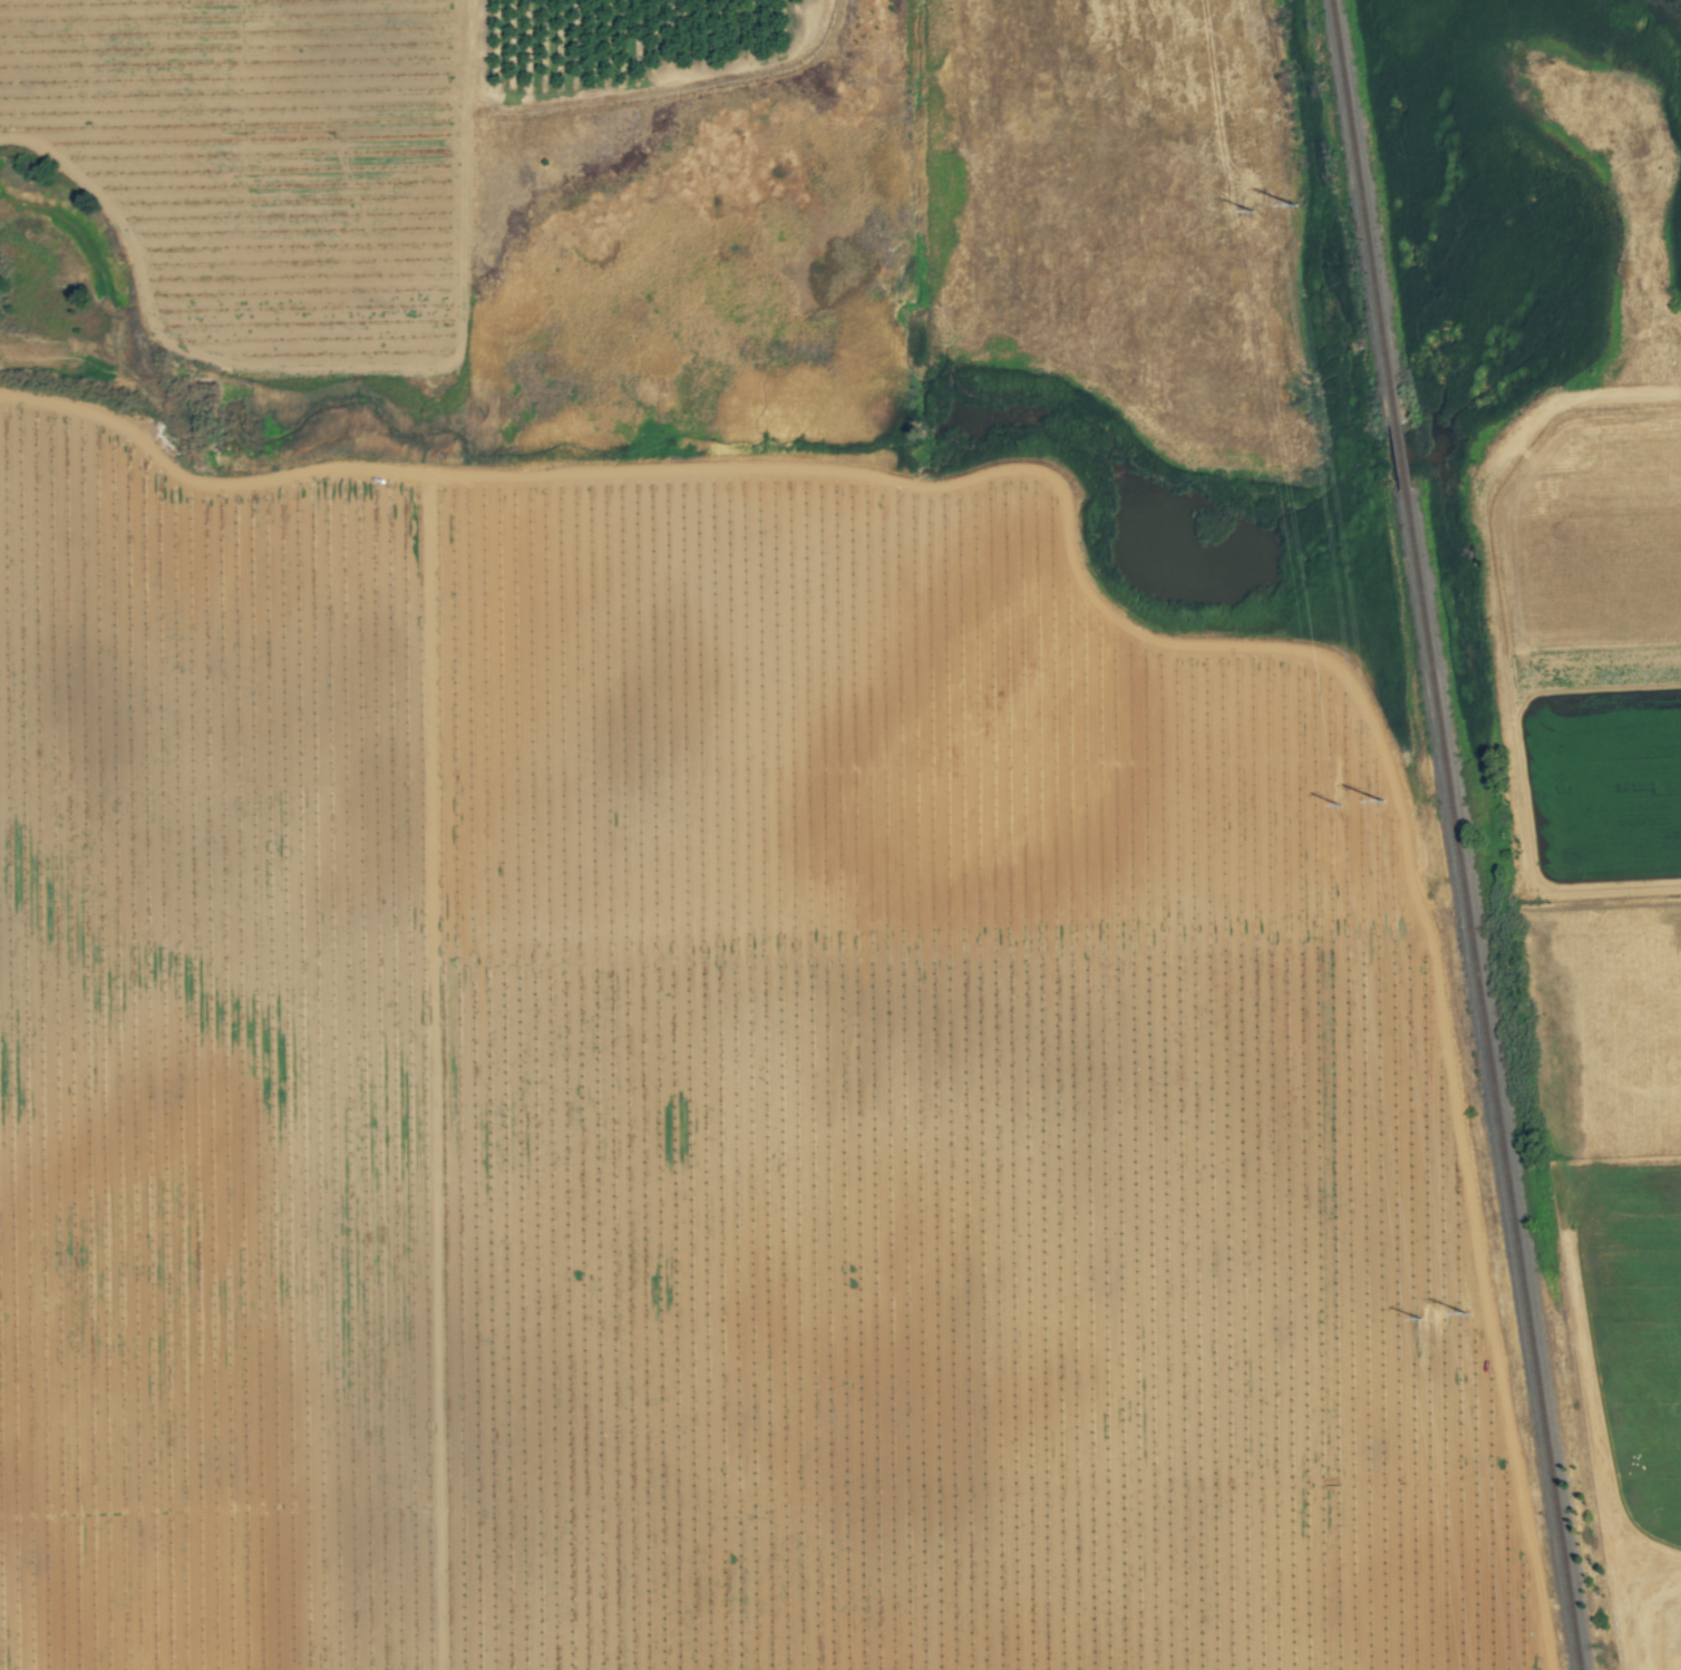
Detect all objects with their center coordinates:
power tower: (1250, 196)
railway: (1371, 212)
railway: (1408, 458)
power tower: (1341, 792)
railway: (1500, 1080)
power tower: (1423, 1333)

